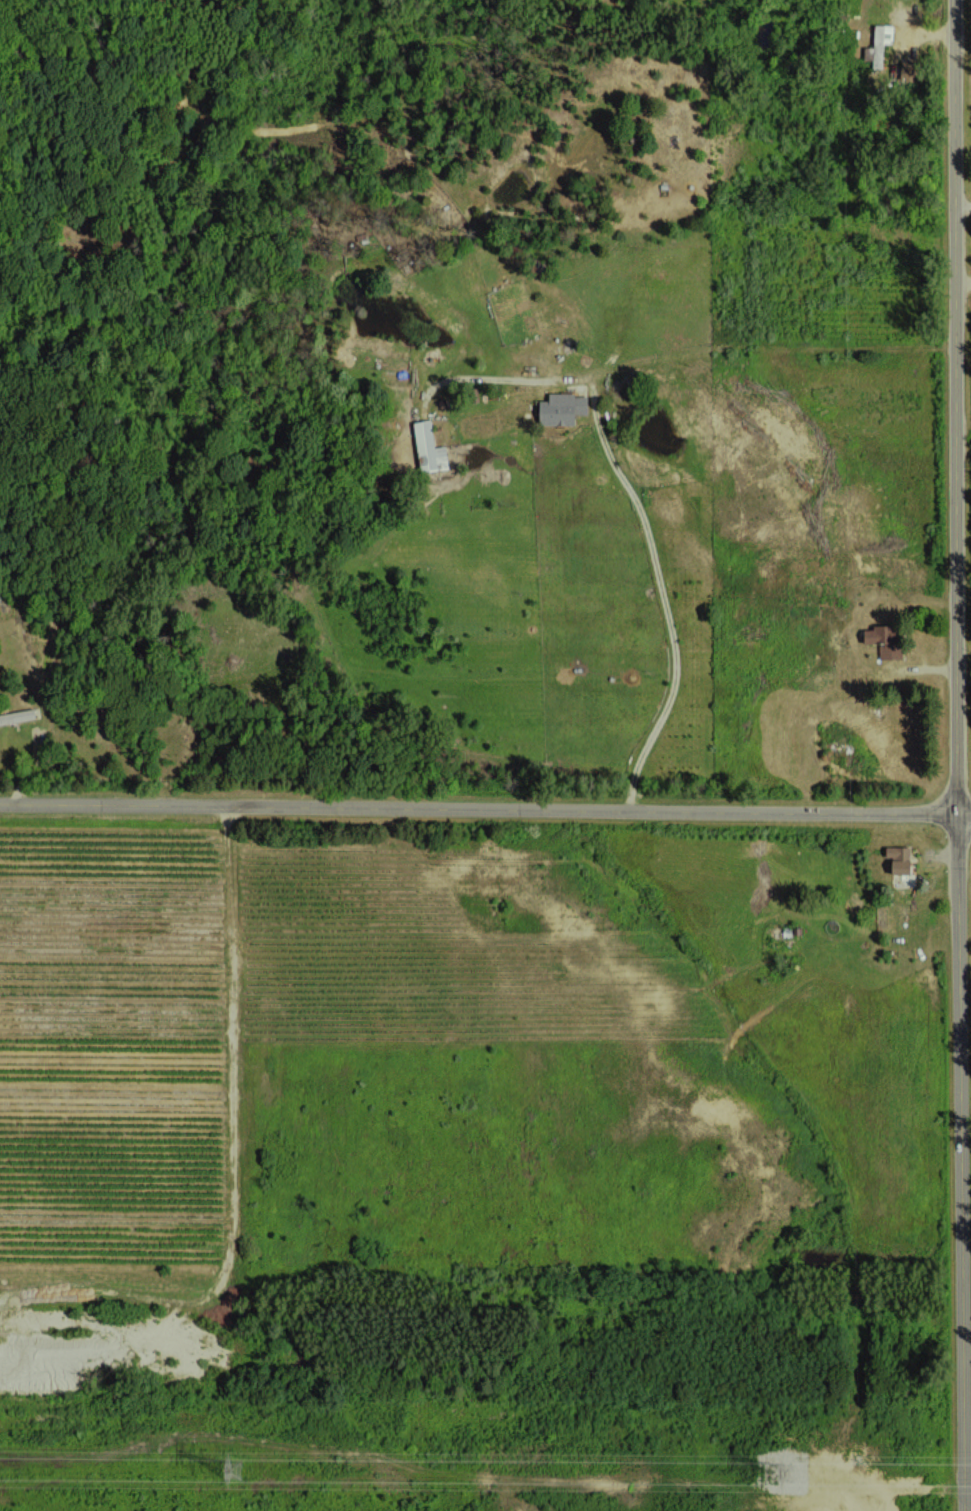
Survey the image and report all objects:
building: (878, 44)
building: (560, 408)
building: (427, 448)
road: (633, 497)
building: (881, 640)
building: (17, 716)
road: (959, 755)
road: (485, 798)
building: (897, 859)
power tower: (235, 1470)
power tower: (789, 1473)

